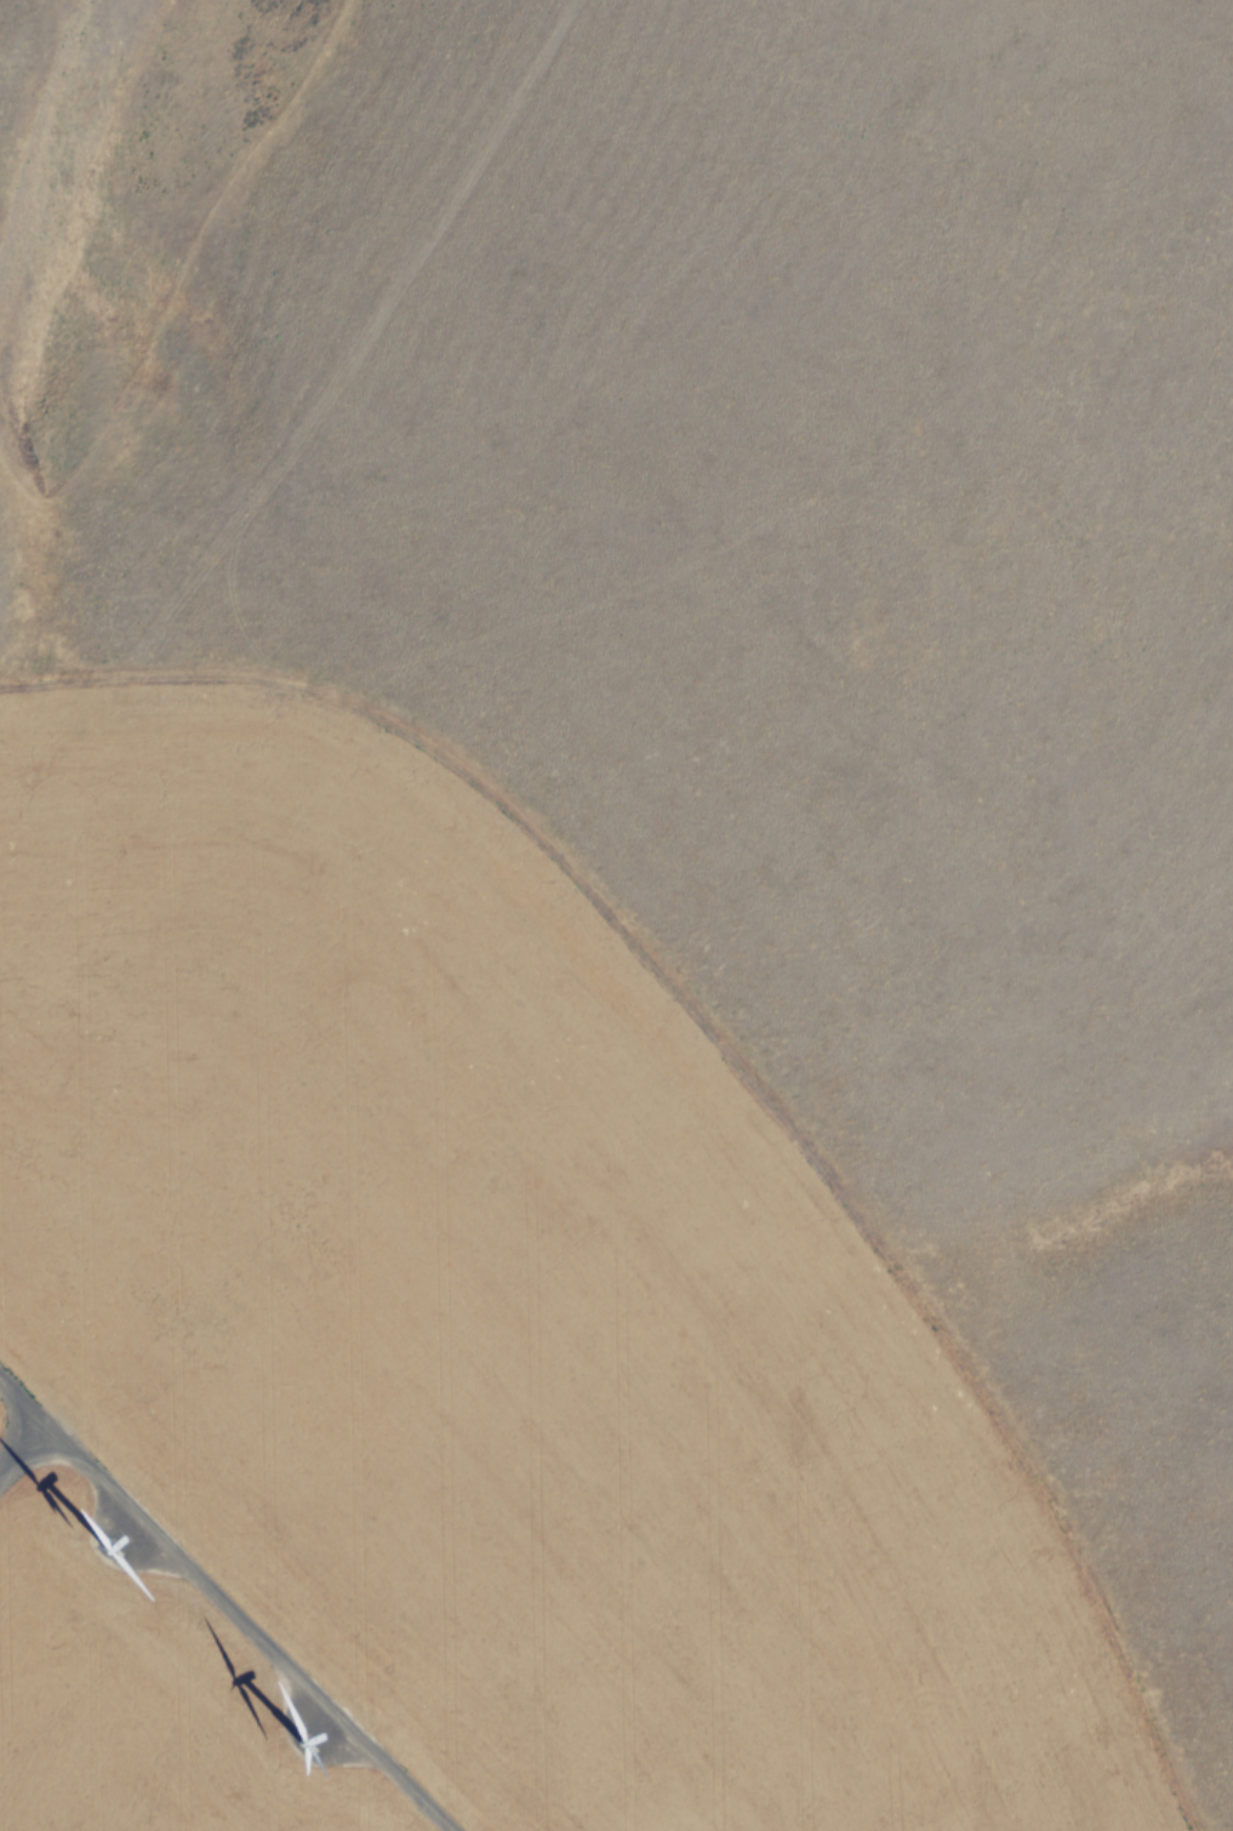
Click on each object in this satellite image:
road: (19, 1451)
wind turbine: (113, 1562)
road: (229, 1604)
wind turbine: (308, 1746)

